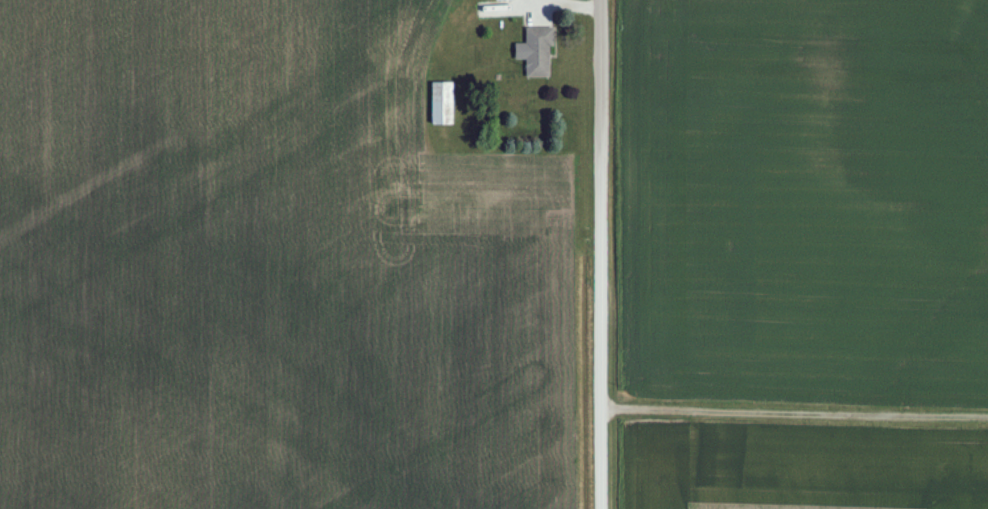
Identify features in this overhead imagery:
road: (597, 254)
road: (793, 410)

